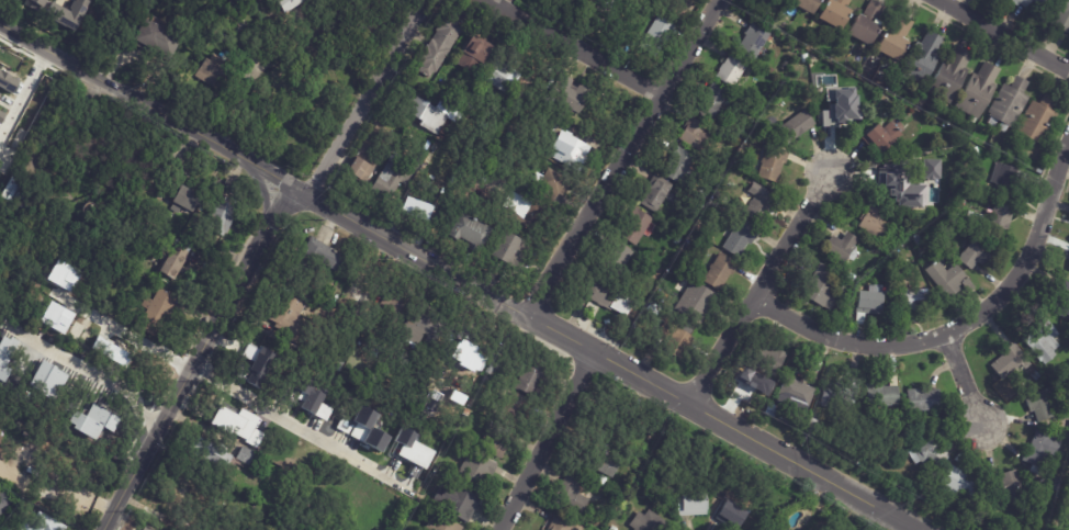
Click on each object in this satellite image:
building: (779, 0)
building: (1027, 2)
building: (37, 4)
building: (290, 4)
building: (305, 4)
building: (803, 5)
building: (68, 13)
building: (832, 14)
building: (1059, 15)
building: (863, 26)
road: (1003, 35)
building: (655, 38)
building: (162, 41)
building: (891, 42)
building: (751, 43)
building: (436, 47)
road: (572, 48)
building: (469, 58)
building: (802, 59)
building: (922, 59)
building: (729, 71)
building: (217, 77)
building: (498, 77)
building: (948, 77)
building: (977, 92)
building: (0, 93)
road: (24, 93)
building: (566, 94)
road: (365, 95)
building: (710, 103)
road: (146, 105)
building: (1006, 106)
building: (839, 115)
building: (423, 116)
building: (1036, 122)
building: (545, 123)
building: (612, 124)
building: (792, 127)
building: (694, 135)
building: (738, 135)
building: (879, 138)
building: (5, 145)
building: (992, 146)
building: (569, 149)
building: (975, 153)
road: (621, 156)
building: (755, 158)
building: (362, 161)
building: (412, 163)
building: (736, 165)
building: (770, 166)
building: (679, 169)
building: (705, 170)
building: (1036, 172)
building: (386, 179)
building: (887, 179)
building: (1005, 180)
building: (551, 184)
road: (263, 194)
building: (654, 194)
building: (21, 196)
building: (935, 201)
building: (191, 204)
building: (758, 207)
building: (413, 211)
building: (520, 215)
building: (222, 217)
building: (991, 218)
building: (873, 223)
building: (633, 227)
building: (460, 236)
building: (738, 239)
building: (677, 241)
building: (840, 247)
building: (1061, 247)
building: (506, 250)
building: (975, 256)
building: (616, 258)
building: (897, 258)
building: (322, 259)
building: (175, 261)
building: (1068, 269)
building: (717, 274)
building: (846, 274)
building: (63, 275)
building: (945, 279)
road: (757, 289)
building: (819, 290)
building: (843, 292)
building: (597, 297)
building: (869, 301)
building: (1061, 303)
building: (620, 304)
building: (696, 304)
building: (910, 304)
building: (161, 305)
building: (395, 305)
building: (889, 306)
building: (291, 315)
building: (56, 317)
road: (960, 326)
building: (428, 328)
road: (127, 331)
building: (1042, 338)
building: (5, 354)
building: (466, 354)
road: (603, 356)
road: (196, 357)
building: (124, 359)
building: (766, 361)
building: (45, 362)
building: (1008, 362)
building: (364, 363)
building: (263, 369)
road: (103, 373)
building: (498, 374)
building: (52, 377)
building: (534, 380)
road: (966, 382)
building: (1031, 382)
building: (27, 387)
building: (795, 394)
building: (880, 395)
building: (303, 396)
building: (834, 401)
building: (921, 402)
building: (1042, 406)
building: (517, 410)
building: (322, 411)
building: (769, 411)
building: (639, 415)
building: (77, 417)
road: (290, 419)
building: (236, 424)
building: (811, 427)
building: (369, 428)
road: (545, 440)
building: (451, 442)
building: (496, 444)
building: (59, 447)
building: (412, 449)
building: (1039, 451)
building: (24, 452)
building: (213, 453)
building: (926, 454)
building: (249, 456)
building: (959, 458)
building: (610, 464)
building: (479, 472)
building: (604, 481)
building: (955, 484)
building: (1044, 485)
building: (1057, 485)
building: (911, 487)
building: (1006, 488)
building: (188, 493)
building: (574, 496)
building: (4, 503)
building: (459, 503)
building: (695, 503)
building: (975, 505)
building: (734, 516)
building: (972, 519)
building: (651, 522)
building: (48, 523)
building: (566, 523)
building: (443, 525)
building: (146, 528)
building: (616, 529)

